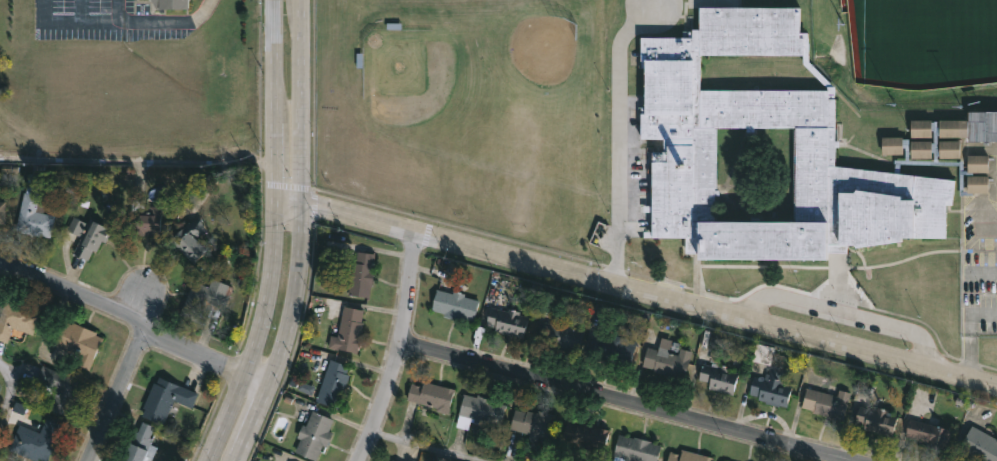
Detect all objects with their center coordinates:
building: (170, 4)
road: (161, 24)
park: (921, 45)
road: (275, 96)
road: (302, 100)
building: (679, 133)
road: (620, 154)
road: (137, 161)
road: (290, 197)
building: (2, 213)
building: (33, 218)
building: (146, 222)
building: (75, 226)
building: (91, 239)
building: (190, 240)
building: (361, 274)
road: (651, 292)
building: (201, 301)
building: (457, 304)
road: (847, 314)
building: (15, 316)
road: (136, 318)
building: (507, 320)
building: (348, 329)
road: (257, 331)
road: (968, 333)
road: (285, 334)
building: (560, 337)
building: (78, 340)
road: (399, 348)
building: (613, 348)
building: (763, 352)
building: (668, 361)
building: (719, 376)
building: (333, 382)
building: (771, 386)
building: (58, 387)
road: (118, 394)
road: (10, 395)
building: (431, 396)
building: (164, 398)
road: (616, 402)
building: (827, 402)
building: (480, 411)
building: (876, 419)
building: (534, 424)
building: (314, 433)
building: (930, 433)
building: (586, 434)
building: (35, 439)
building: (139, 444)
road: (426, 445)
building: (979, 445)
building: (635, 449)
building: (688, 456)
building: (393, 460)
building: (723, 460)

